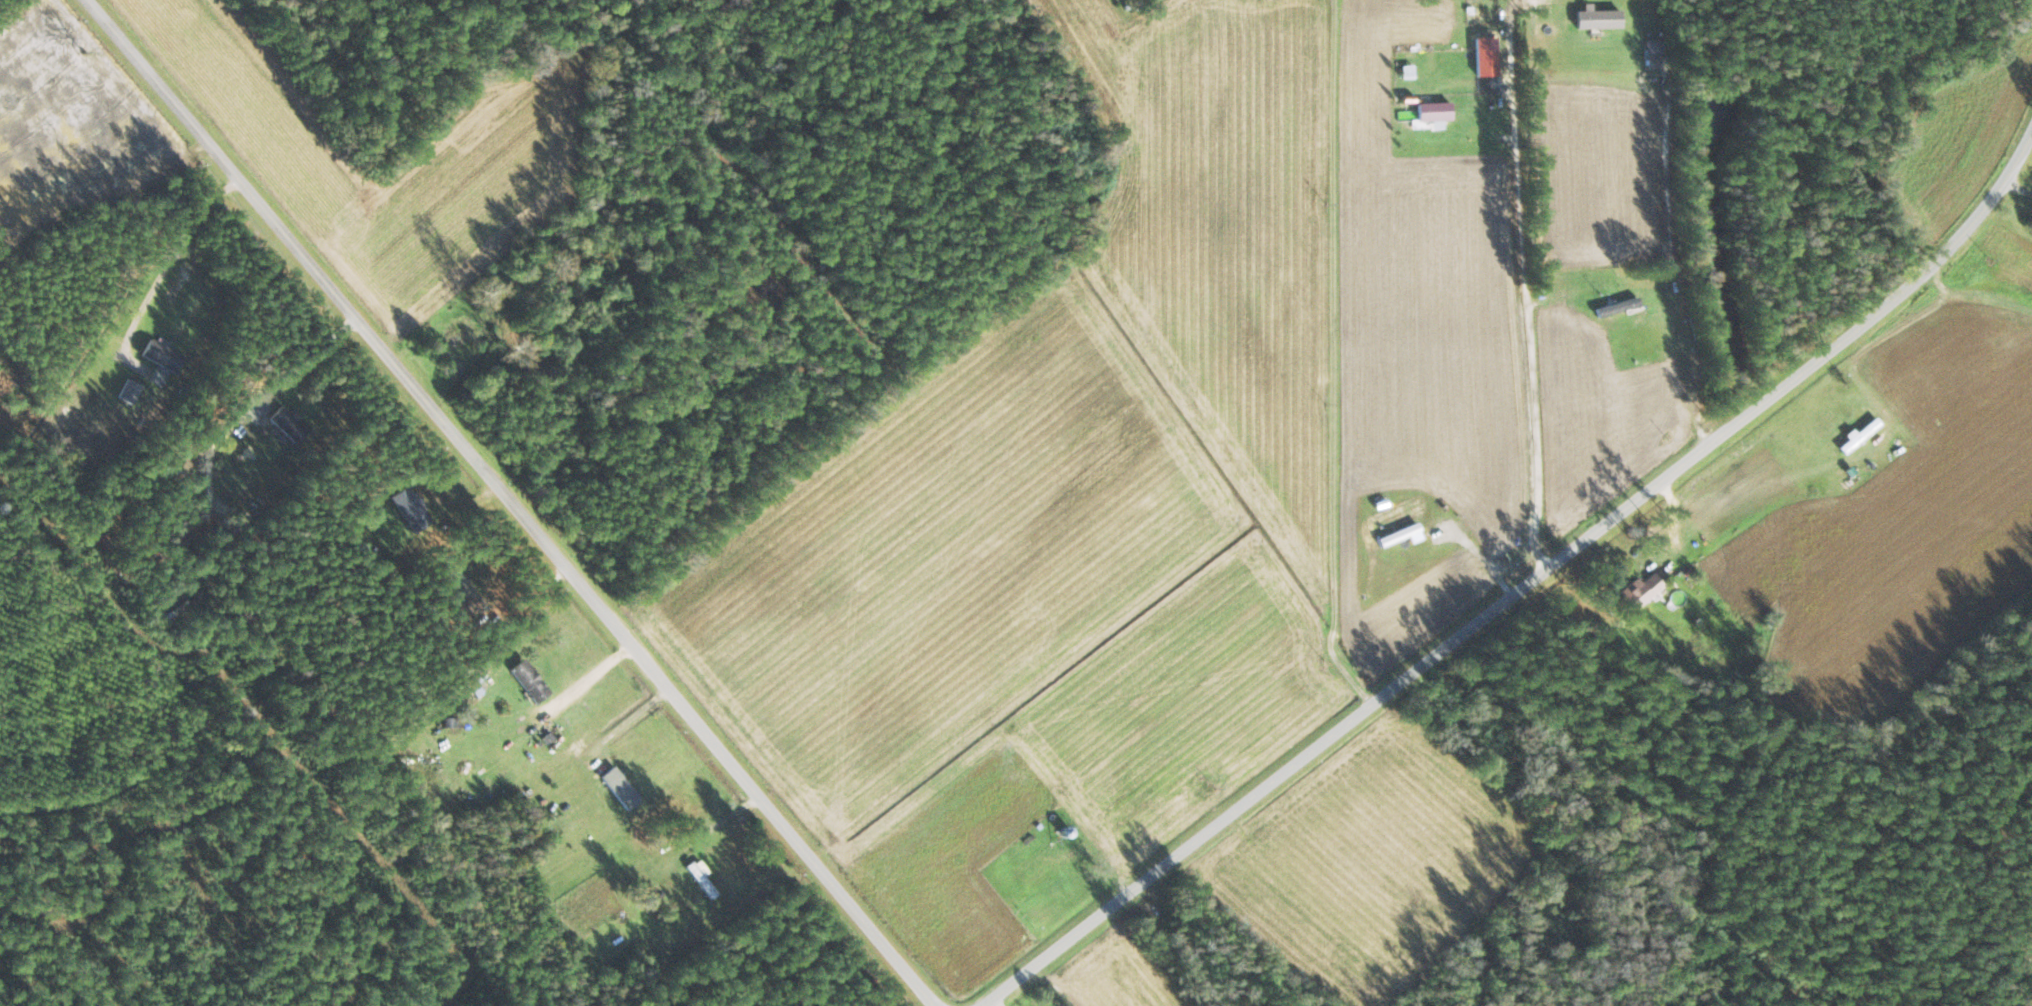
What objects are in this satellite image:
building: (1434, 113)
building: (1581, 292)
building: (1624, 305)
building: (461, 331)
building: (161, 356)
building: (129, 392)
building: (287, 424)
building: (1851, 448)
road: (512, 503)
building: (405, 511)
road: (1525, 585)
building: (1642, 591)
building: (530, 680)
building: (451, 721)
building: (625, 785)
building: (703, 878)

